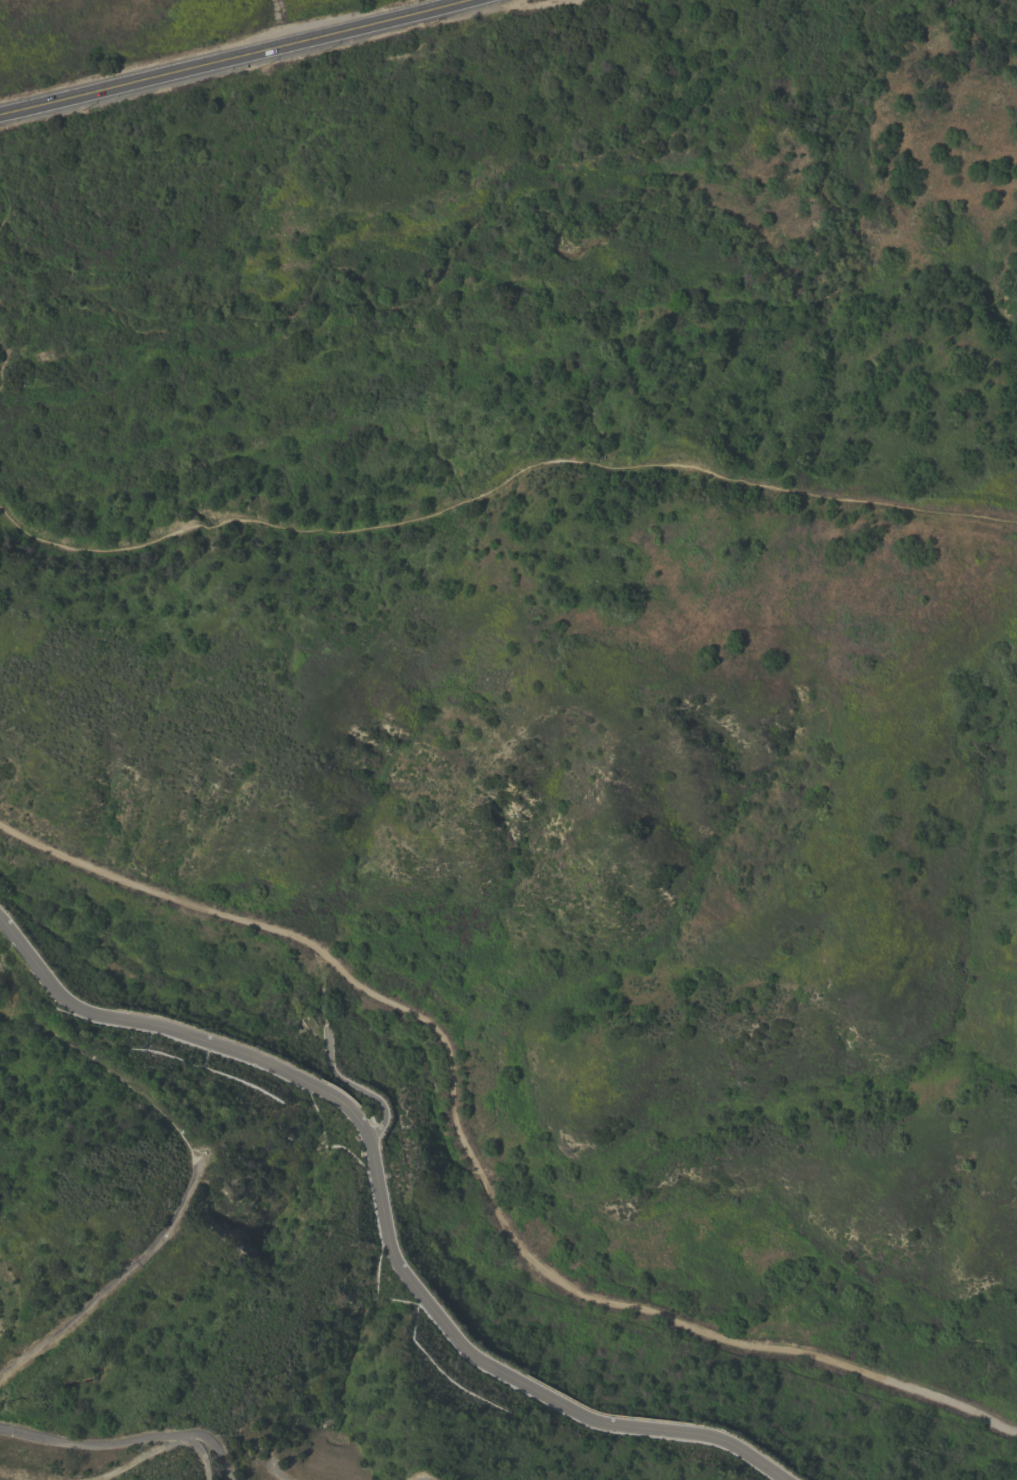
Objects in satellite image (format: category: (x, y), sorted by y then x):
road: (548, 1)
road: (239, 58)
road: (7, 206)
road: (3, 362)
road: (475, 1167)
road: (383, 1207)

